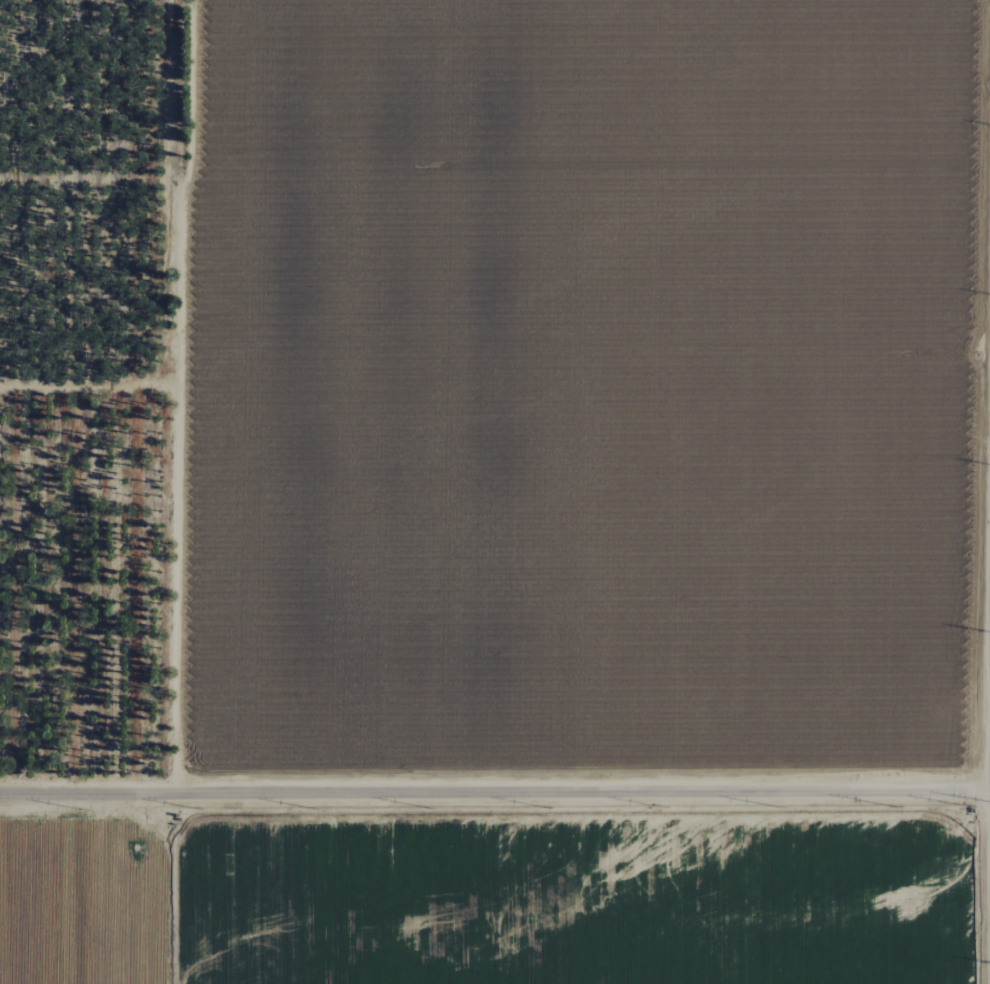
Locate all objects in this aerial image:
road: (495, 792)
road: (74, 830)
road: (123, 833)
crop: (90, 897)
crop: (580, 897)
road: (125, 923)

